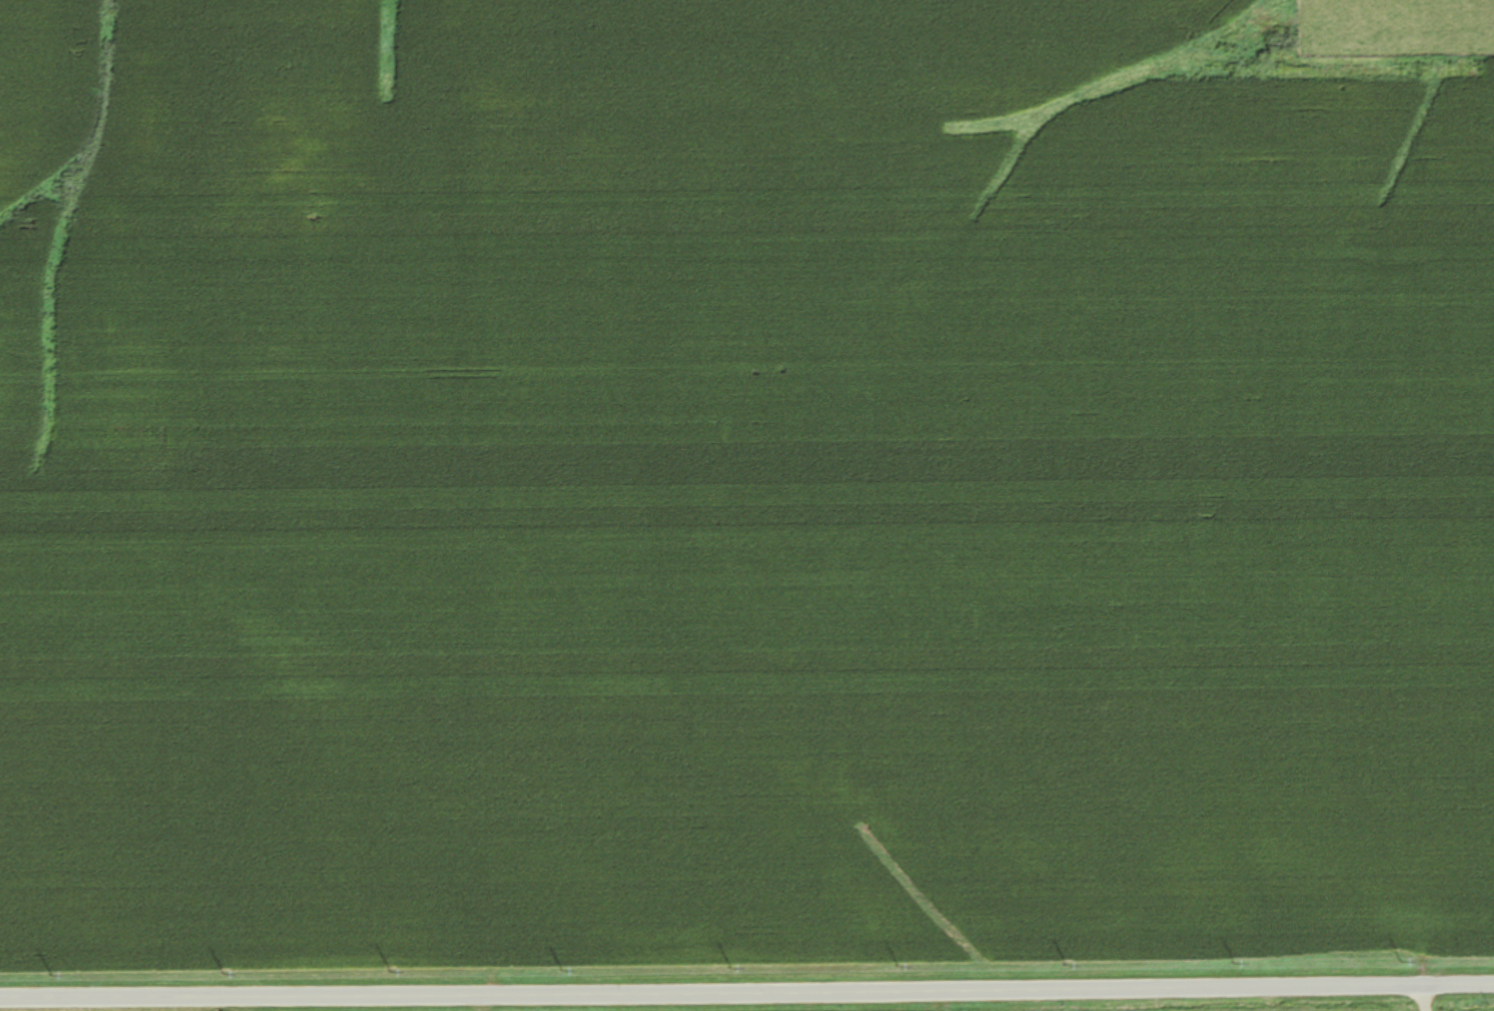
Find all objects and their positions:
road: (747, 983)

